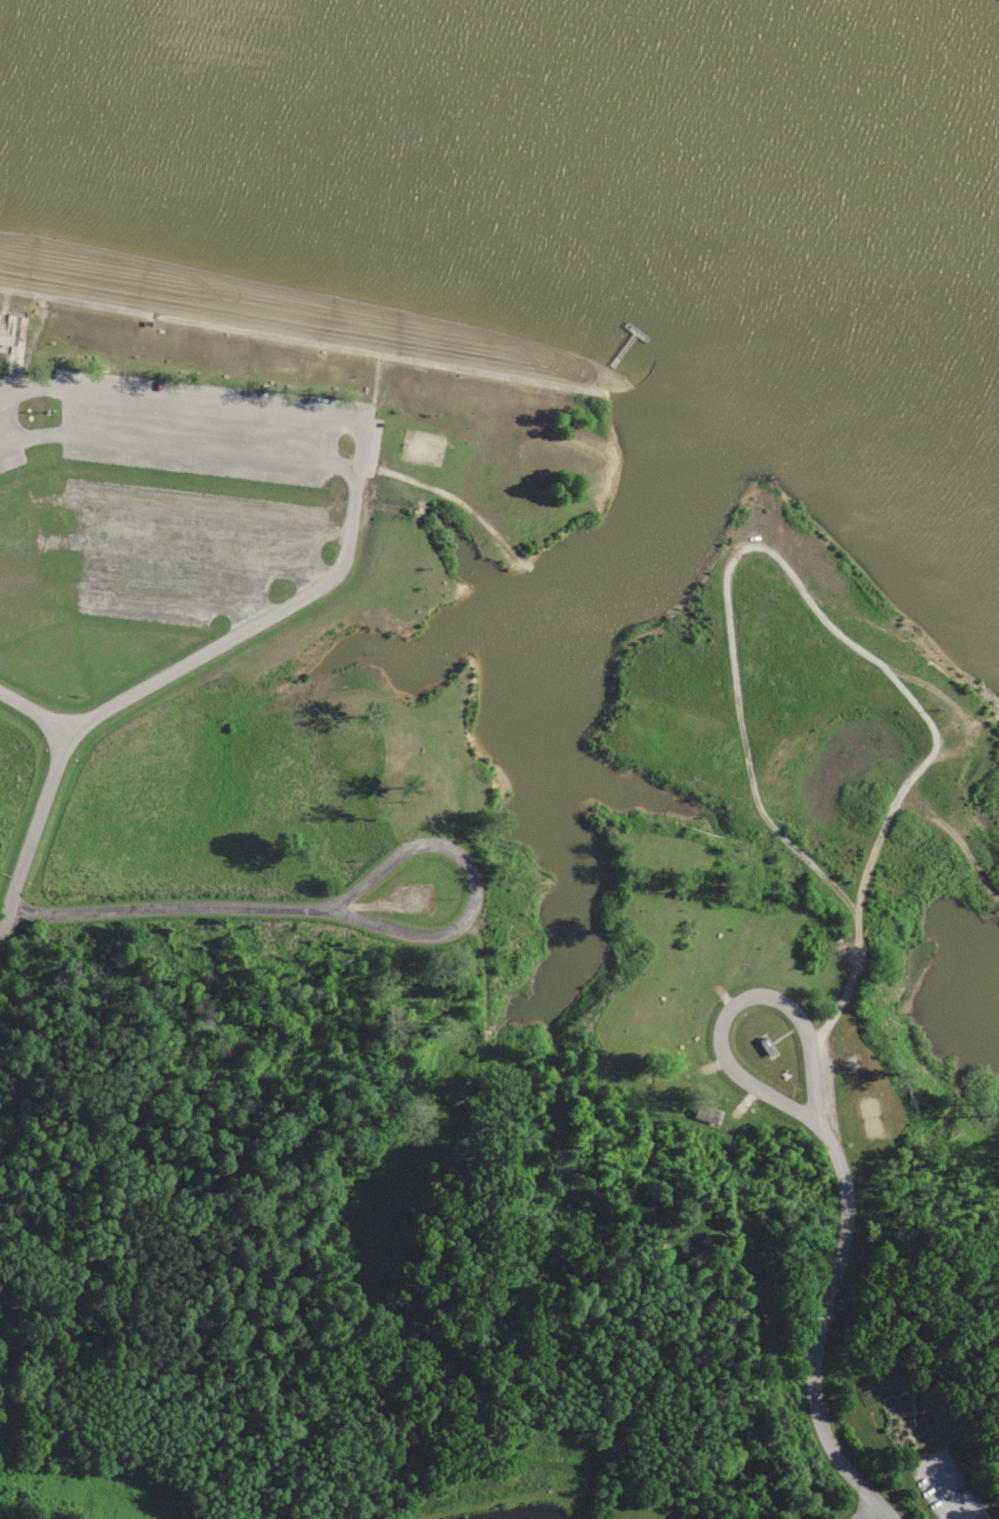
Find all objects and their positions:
river: (752, 159)
road: (181, 400)
street lamp: (48, 410)
road: (178, 445)
road: (178, 667)
road: (36, 712)
road: (168, 908)
road: (468, 916)
road: (858, 927)
road: (773, 998)
road: (330, 1134)
road: (821, 1328)
parking lot: (948, 1488)
road: (951, 1500)
road: (867, 1510)

